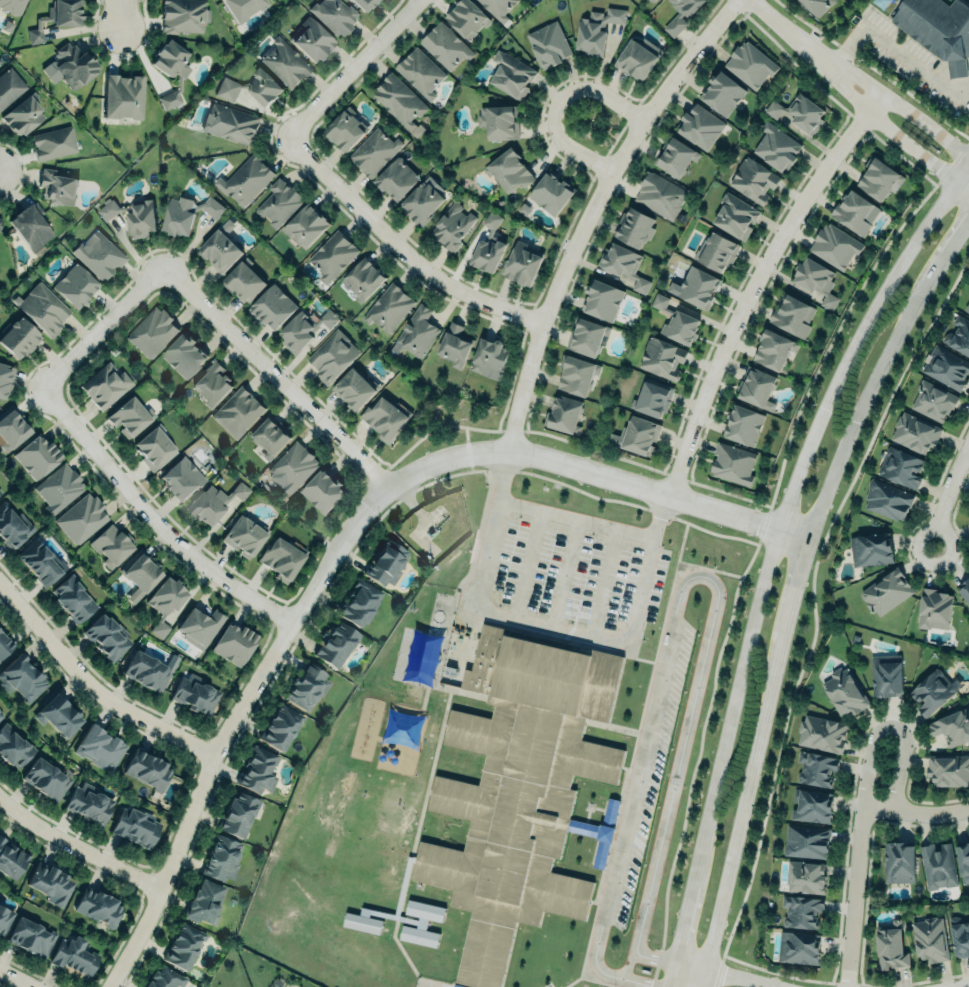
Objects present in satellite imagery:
building: (651, 0)
building: (364, 4)
building: (11, 5)
building: (817, 5)
building: (498, 8)
road: (124, 14)
building: (334, 14)
building: (681, 14)
building: (184, 15)
building: (56, 18)
building: (467, 18)
building: (597, 29)
building: (938, 29)
road: (791, 32)
building: (312, 39)
building: (549, 44)
building: (446, 46)
road: (896, 50)
building: (637, 57)
building: (0, 60)
building: (70, 63)
building: (285, 63)
building: (749, 64)
road: (347, 68)
building: (171, 69)
building: (420, 72)
building: (512, 74)
building: (10, 86)
building: (250, 87)
building: (722, 92)
building: (123, 97)
building: (399, 100)
road: (553, 103)
road: (902, 111)
building: (799, 112)
building: (23, 115)
building: (499, 121)
building: (231, 123)
building: (699, 127)
building: (345, 130)
road: (892, 137)
building: (53, 143)
building: (776, 146)
building: (373, 152)
building: (676, 158)
building: (509, 170)
building: (395, 178)
building: (878, 178)
building: (754, 179)
building: (245, 180)
building: (56, 187)
building: (552, 193)
building: (660, 196)
building: (423, 201)
building: (279, 203)
building: (212, 207)
building: (523, 209)
road: (588, 209)
building: (107, 210)
building: (855, 212)
building: (735, 216)
building: (178, 217)
building: (140, 219)
building: (305, 225)
building: (453, 227)
building: (30, 228)
building: (633, 228)
road: (951, 243)
building: (489, 245)
building: (835, 246)
road: (395, 249)
building: (219, 250)
building: (716, 252)
building: (99, 255)
building: (332, 255)
building: (521, 265)
building: (623, 265)
building: (363, 279)
building: (816, 280)
building: (243, 282)
road: (751, 283)
building: (75, 285)
building: (698, 288)
building: (602, 300)
building: (659, 301)
building: (272, 307)
building: (43, 308)
building: (389, 308)
building: (967, 308)
building: (792, 316)
road: (99, 326)
building: (681, 327)
building: (303, 330)
building: (152, 332)
building: (417, 332)
building: (587, 337)
building: (958, 337)
building: (18, 338)
building: (454, 346)
building: (773, 348)
building: (184, 356)
building: (333, 356)
building: (662, 358)
building: (489, 359)
building: (946, 368)
building: (576, 375)
road: (271, 376)
building: (5, 378)
building: (212, 383)
building: (105, 385)
building: (755, 387)
building: (355, 390)
building: (653, 398)
building: (933, 400)
road: (862, 401)
building: (237, 413)
building: (562, 414)
building: (128, 418)
building: (387, 419)
building: (743, 425)
building: (12, 427)
building: (915, 434)
building: (636, 436)
building: (269, 441)
building: (153, 448)
building: (37, 456)
building: (733, 464)
building: (294, 467)
building: (901, 468)
road: (595, 474)
building: (182, 478)
building: (59, 487)
building: (0, 492)
building: (323, 494)
road: (948, 497)
building: (887, 500)
building: (214, 502)
road: (152, 517)
building: (82, 518)
road: (575, 520)
building: (12, 522)
building: (244, 535)
building: (111, 545)
building: (870, 549)
road: (768, 554)
building: (281, 559)
building: (39, 562)
building: (386, 563)
road: (529, 568)
building: (140, 573)
road: (561, 575)
road: (603, 584)
road: (795, 586)
road: (679, 588)
building: (964, 590)
building: (886, 591)
building: (74, 598)
building: (361, 602)
building: (165, 603)
road: (812, 608)
building: (934, 609)
building: (200, 626)
road: (545, 629)
building: (107, 636)
building: (235, 644)
building: (336, 644)
building: (6, 645)
building: (147, 671)
building: (886, 675)
building: (21, 680)
building: (307, 686)
road: (92, 687)
building: (844, 692)
building: (933, 692)
building: (195, 694)
building: (1, 714)
building: (58, 715)
building: (280, 725)
building: (952, 726)
road: (228, 727)
road: (892, 727)
building: (822, 734)
building: (14, 746)
building: (100, 747)
building: (257, 769)
building: (816, 769)
building: (148, 770)
building: (948, 770)
building: (45, 778)
building: (519, 789)
road: (743, 800)
building: (89, 803)
building: (811, 806)
road: (914, 813)
building: (238, 814)
building: (136, 826)
building: (806, 841)
road: (75, 848)
building: (223, 858)
building: (11, 860)
building: (899, 862)
building: (963, 862)
building: (938, 865)
building: (806, 877)
building: (51, 884)
road: (853, 897)
building: (204, 902)
building: (98, 907)
building: (801, 911)
building: (968, 916)
building: (5, 919)
building: (362, 923)
building: (420, 923)
building: (30, 934)
building: (959, 936)
building: (930, 940)
building: (183, 944)
building: (890, 946)
building: (797, 948)
building: (74, 957)
road: (629, 959)
road: (690, 965)
building: (164, 977)
road: (15, 978)
road: (702, 978)
road: (741, 978)
road: (794, 978)
road: (932, 980)
road: (962, 985)

